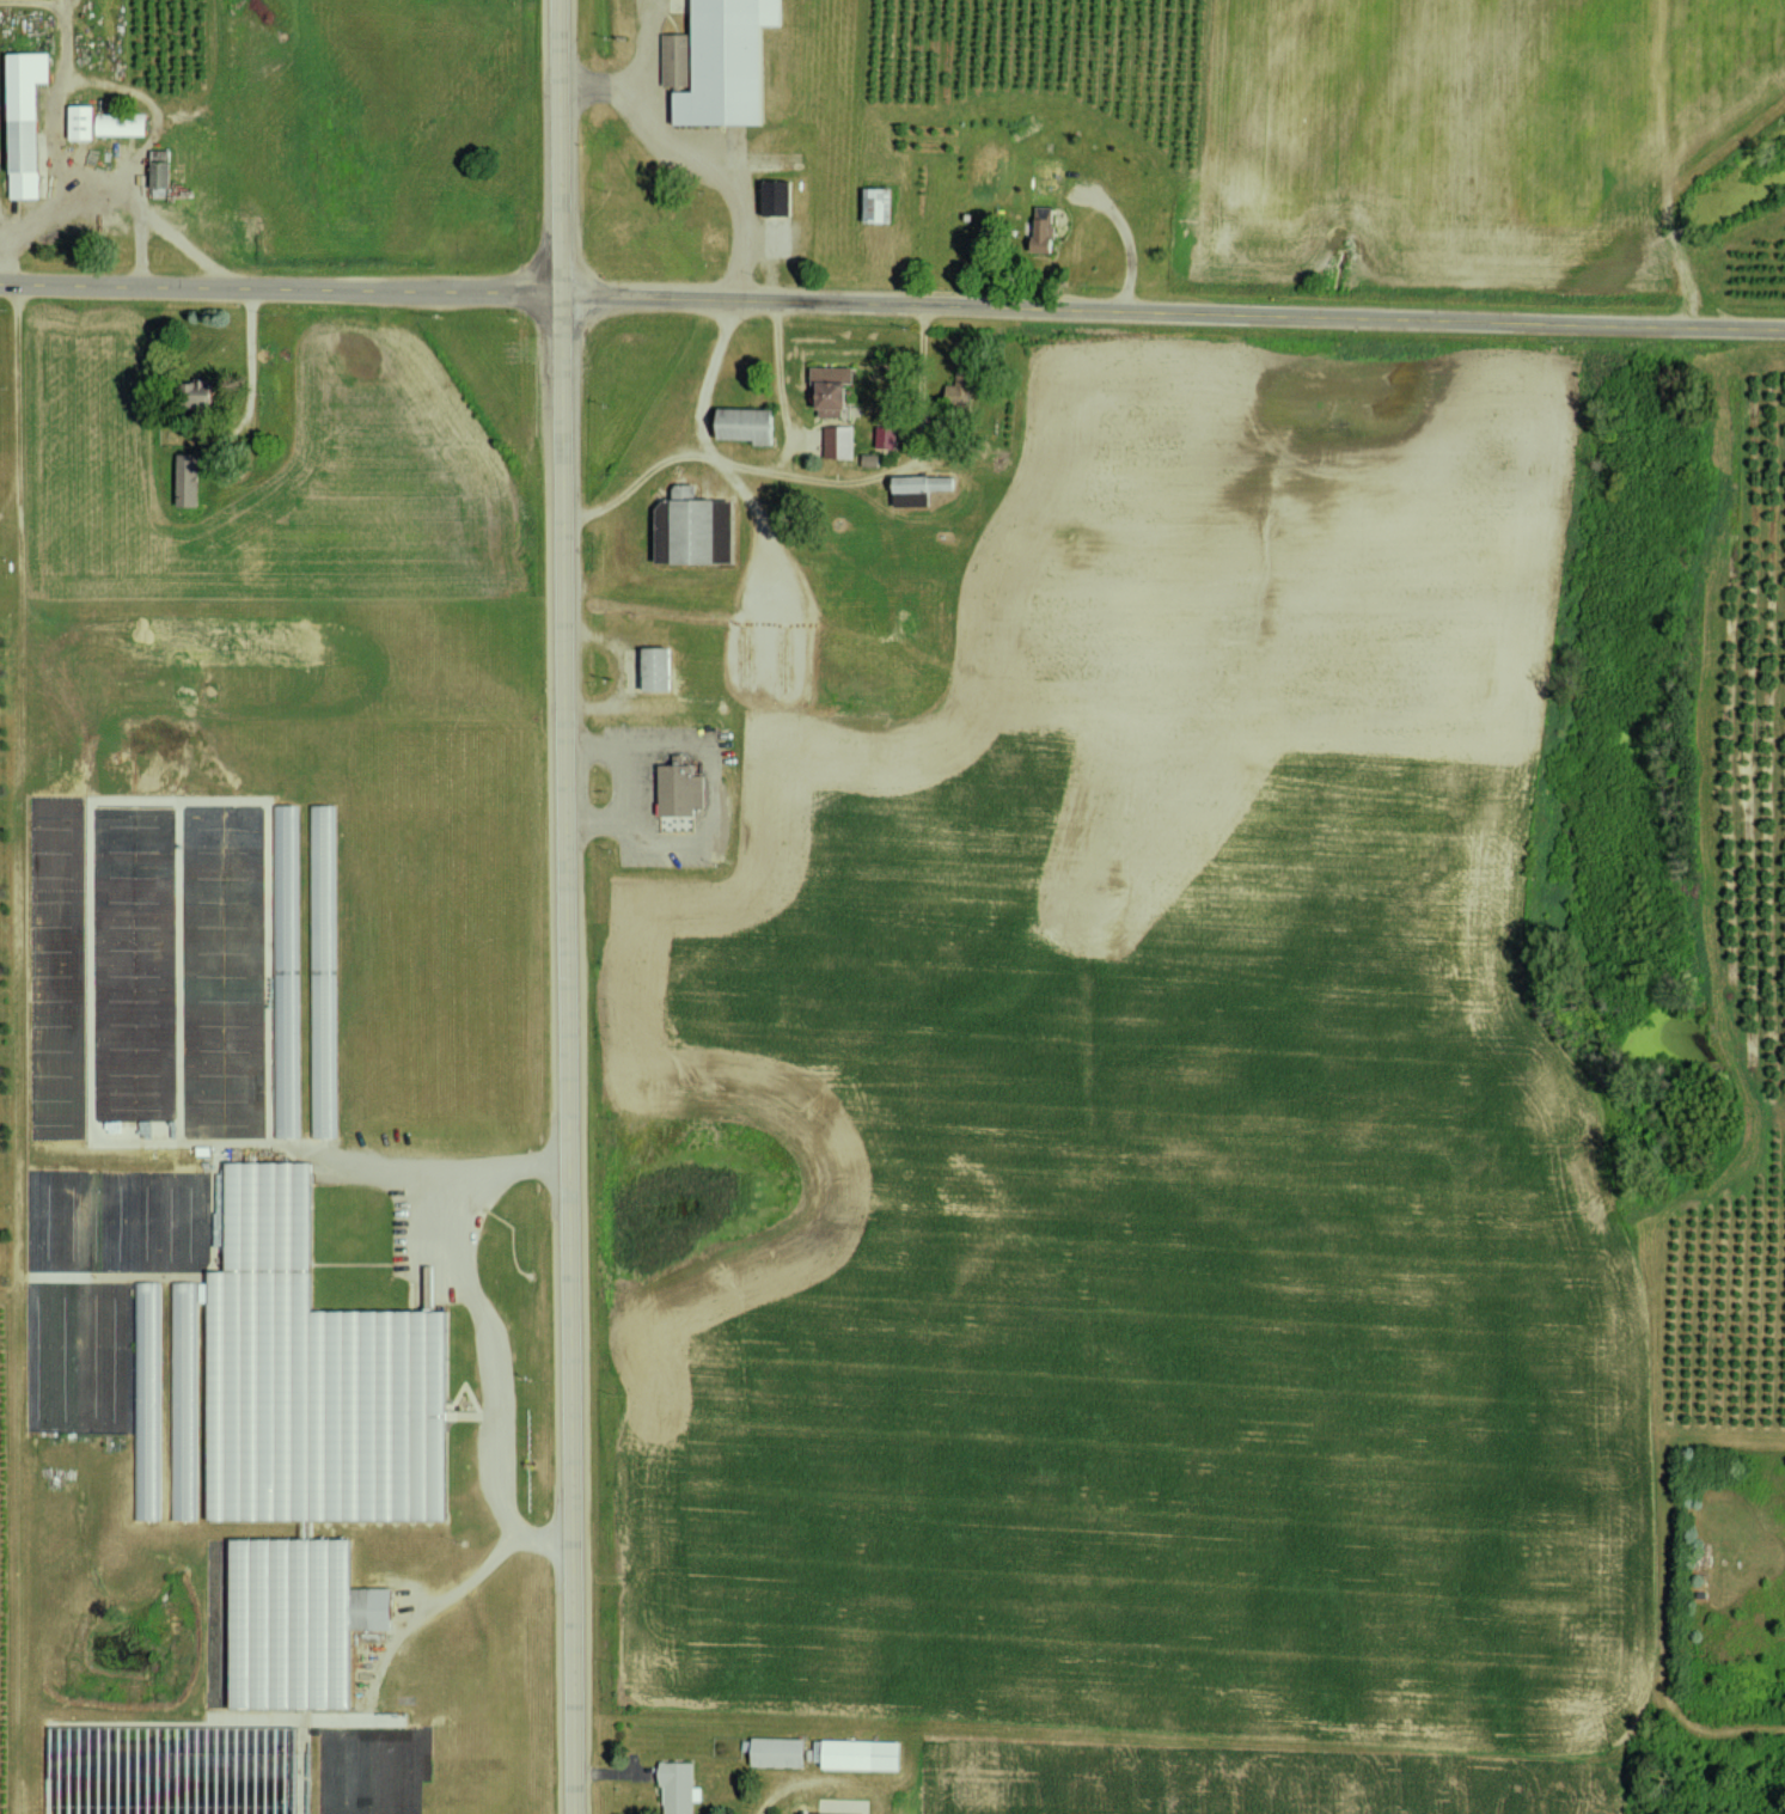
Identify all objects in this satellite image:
building: (678, 59)
building: (732, 62)
building: (29, 121)
building: (86, 121)
road: (60, 123)
building: (124, 124)
road: (562, 148)
road: (696, 158)
building: (165, 179)
building: (780, 197)
building: (880, 203)
road: (157, 216)
building: (1047, 228)
road: (143, 248)
road: (892, 304)
road: (251, 373)
road: (708, 377)
building: (837, 390)
road: (18, 397)
road: (784, 414)
building: (750, 425)
building: (892, 438)
building: (842, 441)
building: (192, 480)
road: (638, 481)
building: (693, 527)
building: (661, 668)
road: (630, 787)
building: (683, 792)
road: (569, 1056)
building: (287, 1059)
road: (20, 1161)
road: (497, 1338)
building: (147, 1401)
building: (374, 1418)
building: (299, 1623)
building: (782, 1752)
building: (866, 1754)
road: (799, 1784)
building: (679, 1788)
building: (815, 1813)

